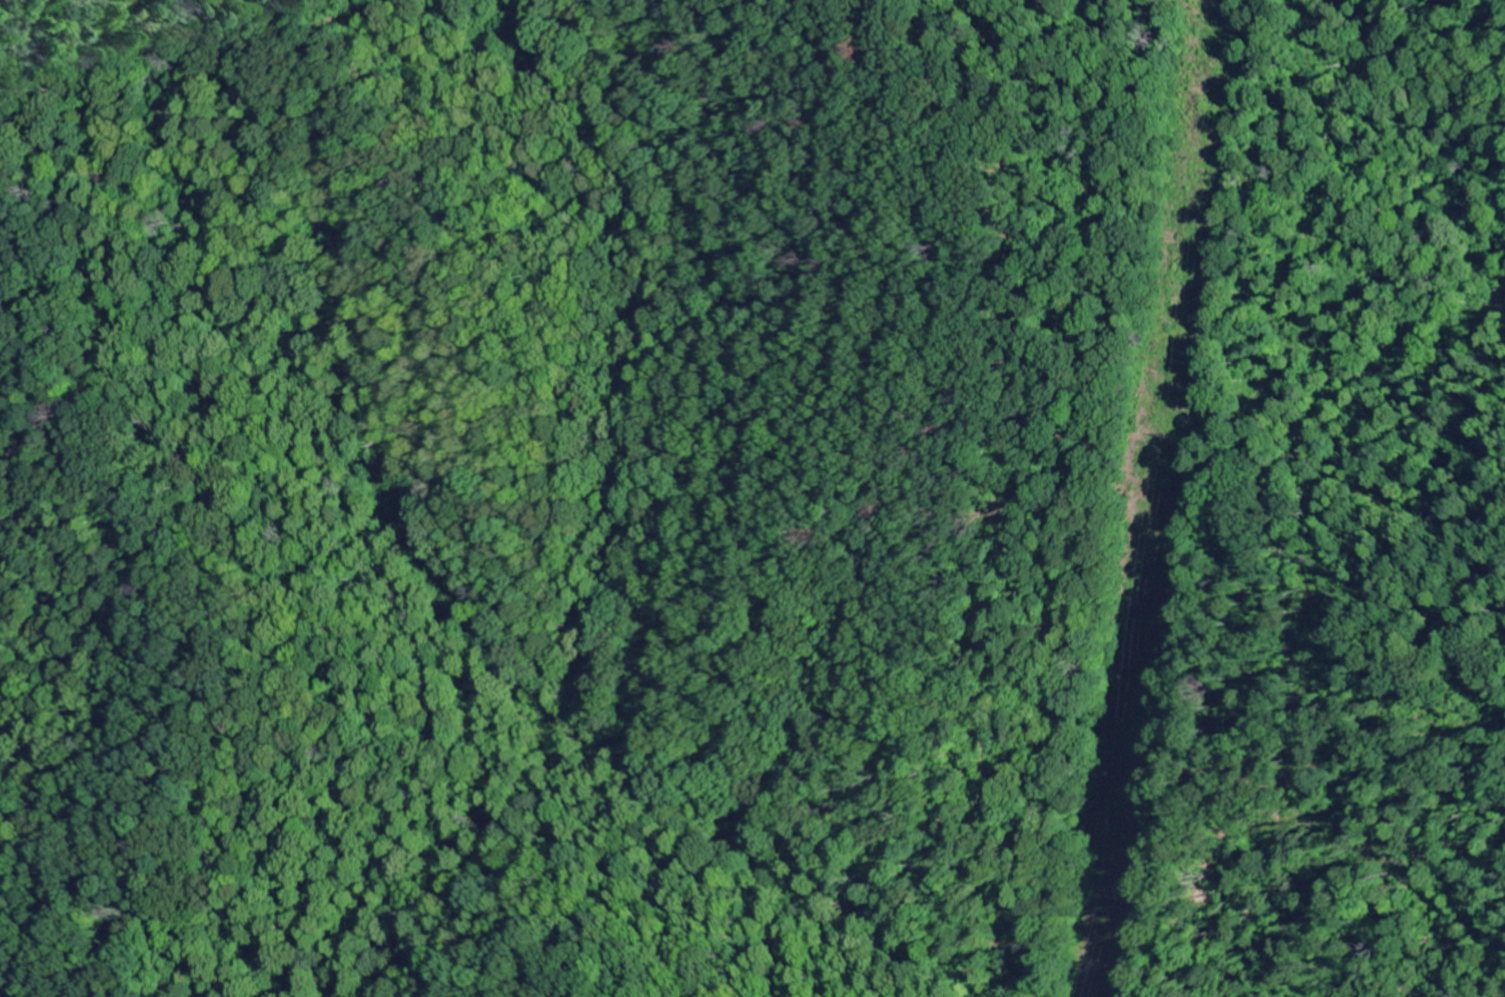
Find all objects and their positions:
power tower: (1156, 433)
power tower: (1100, 888)

